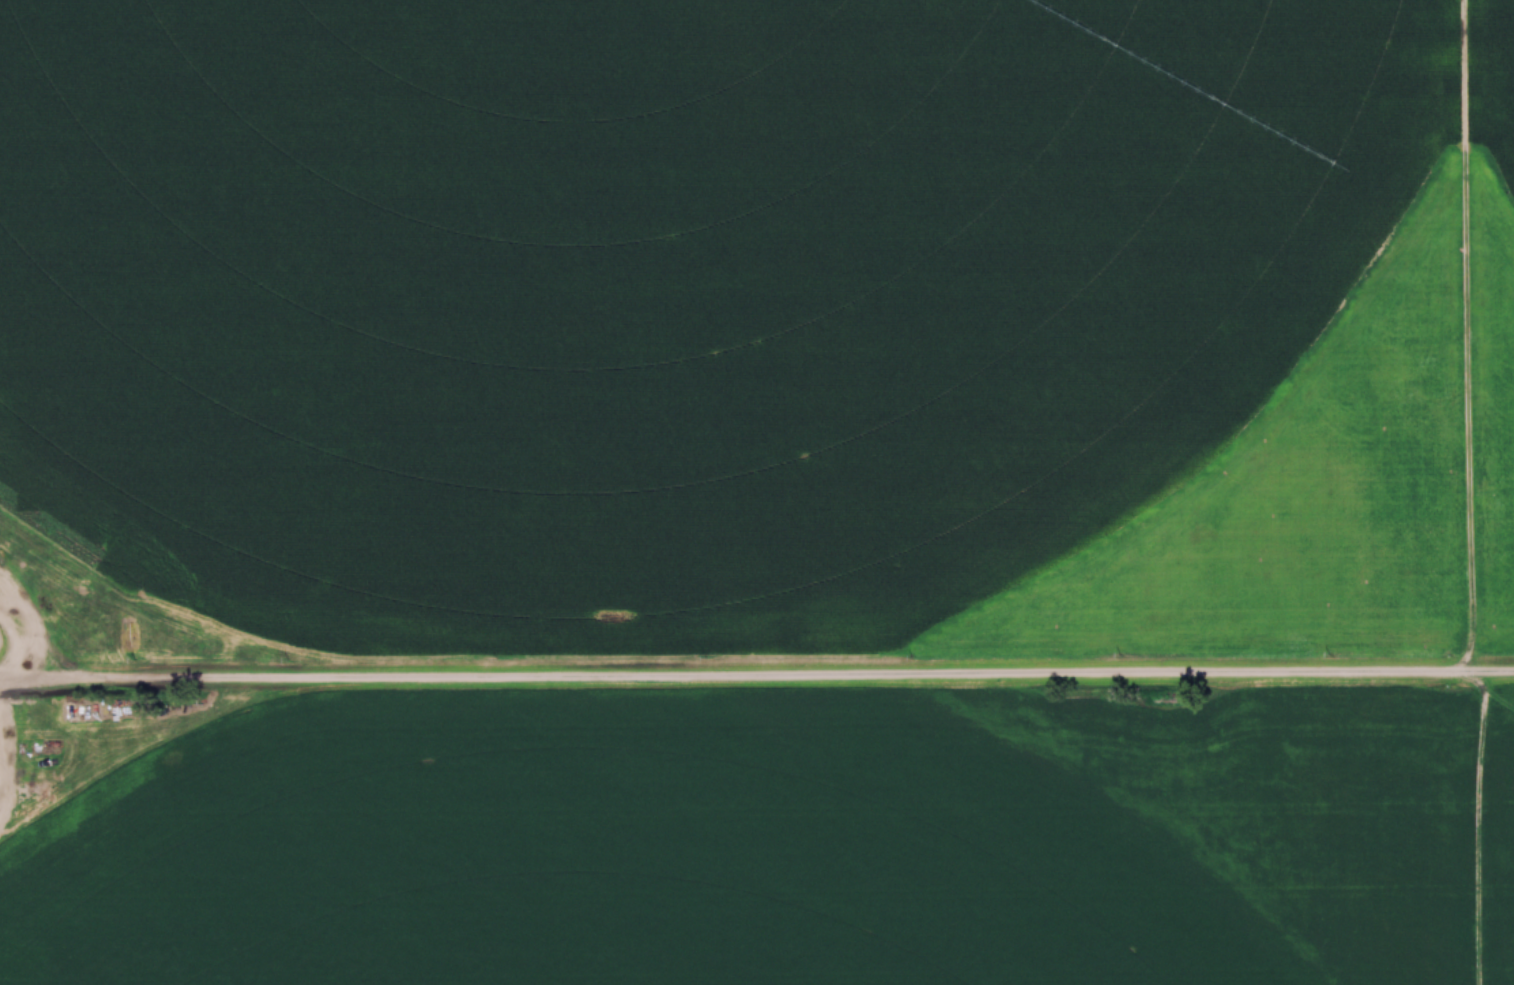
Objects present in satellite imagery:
road: (21, 645)
road: (756, 679)

